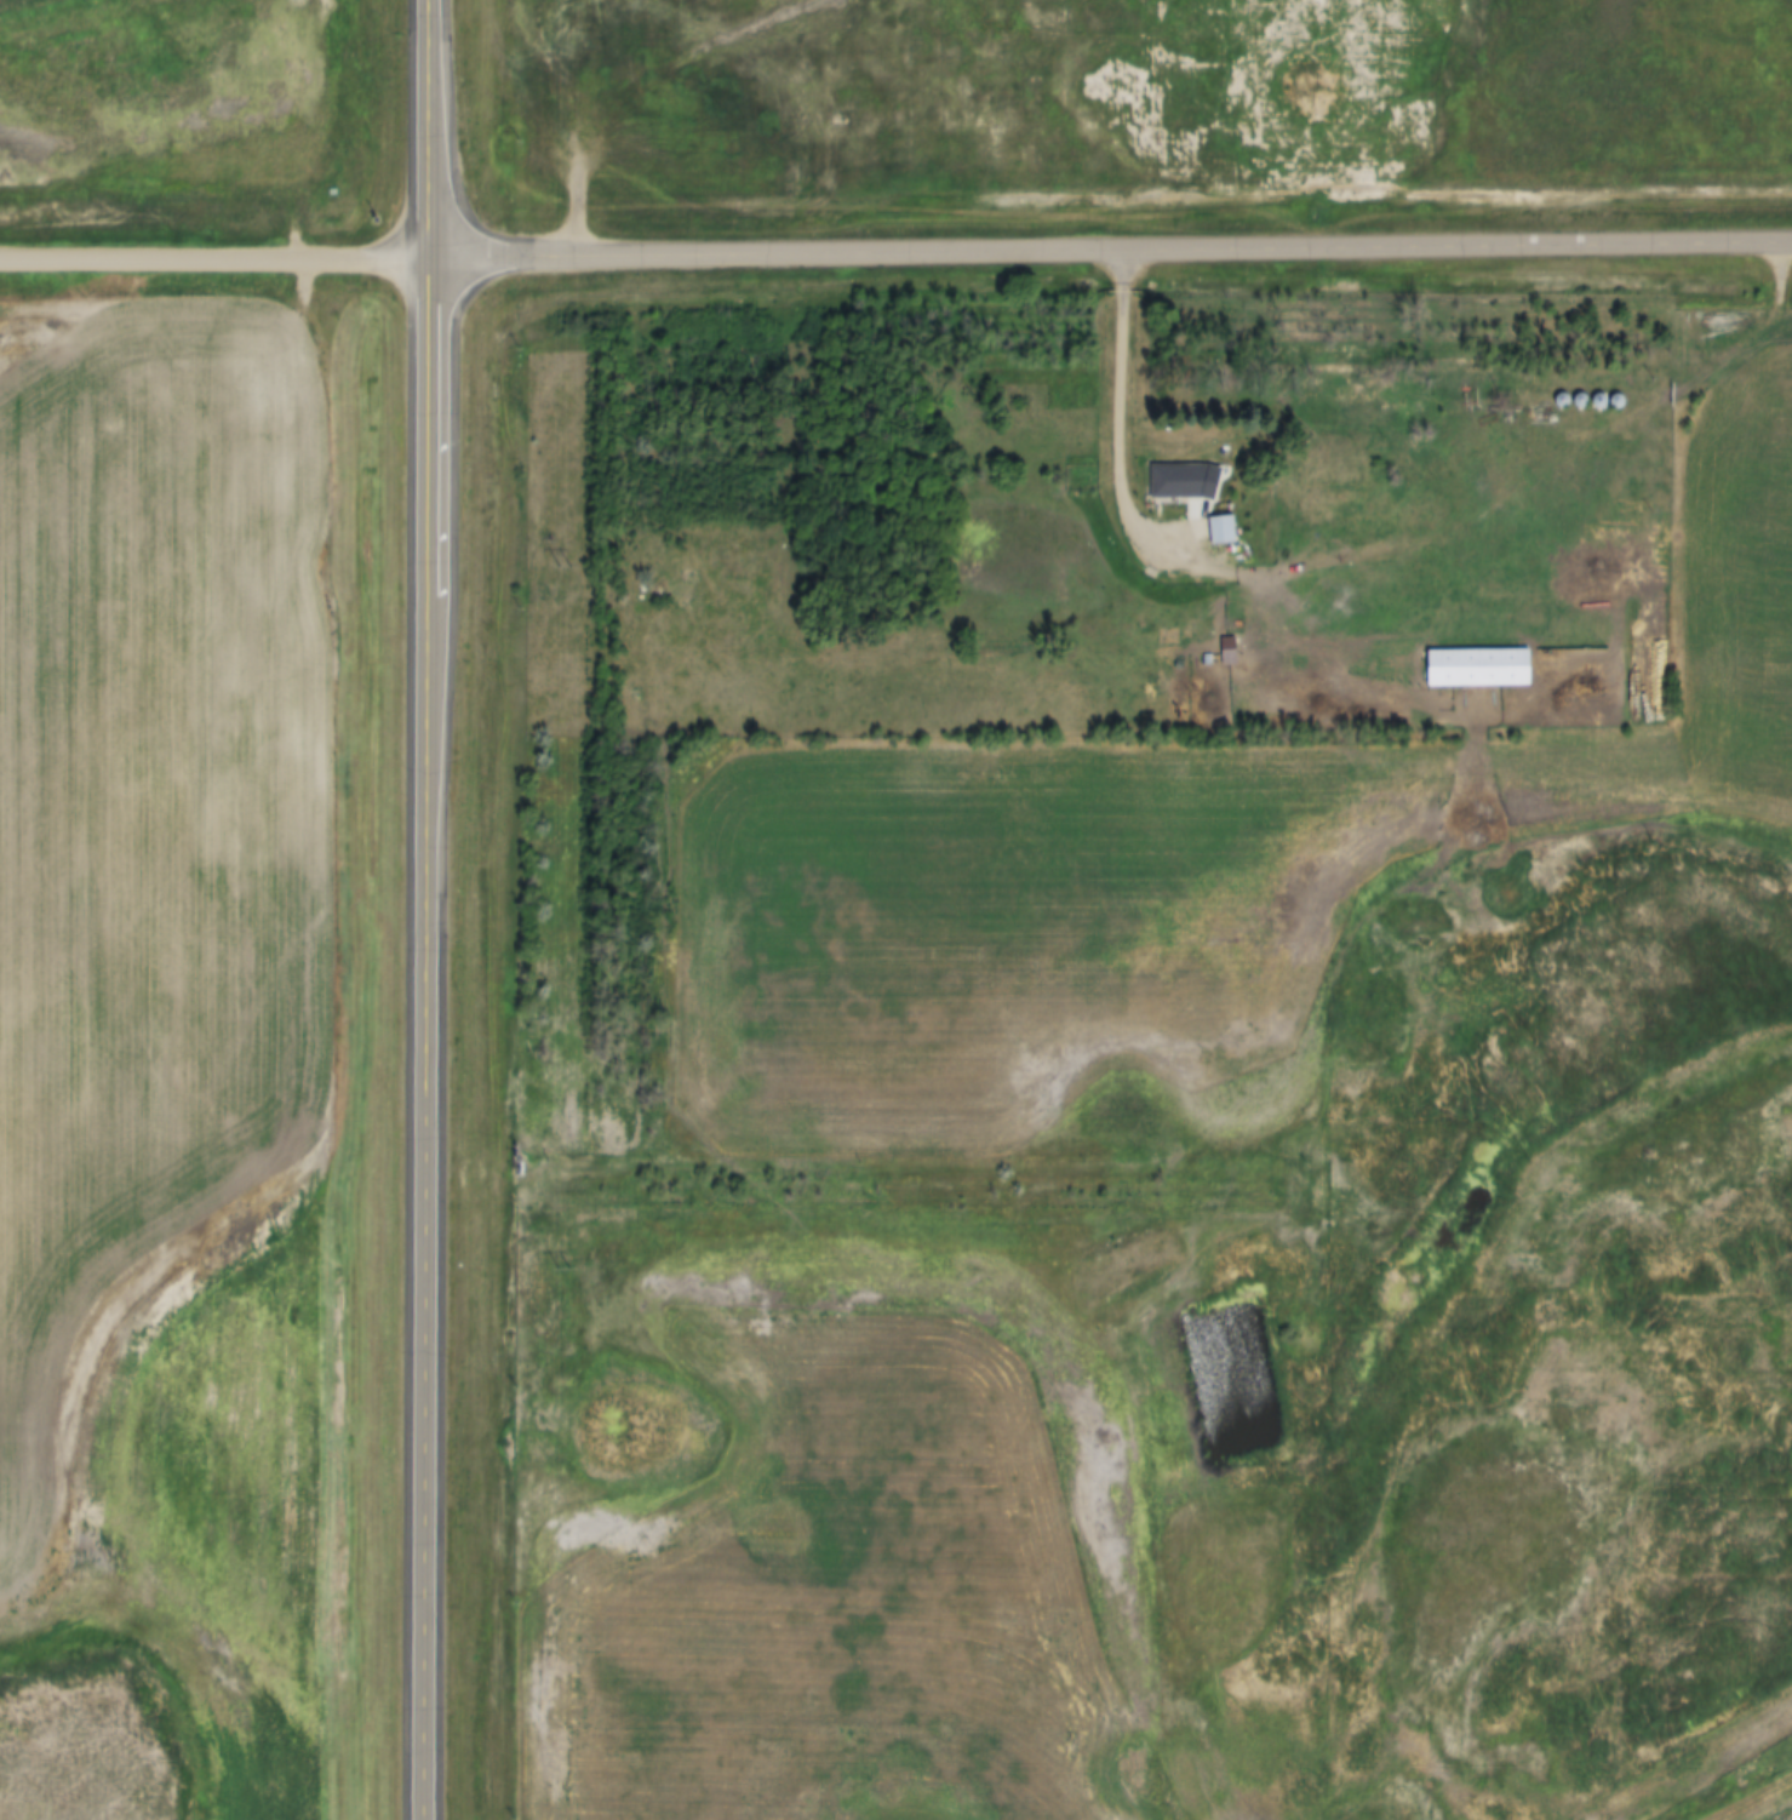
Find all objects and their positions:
road: (663, 85)
road: (1112, 251)
road: (216, 259)
road: (1124, 413)
building: (1176, 483)
building: (1225, 531)
power tower: (566, 567)
building: (1481, 668)
road: (428, 909)
power tower: (561, 1265)

